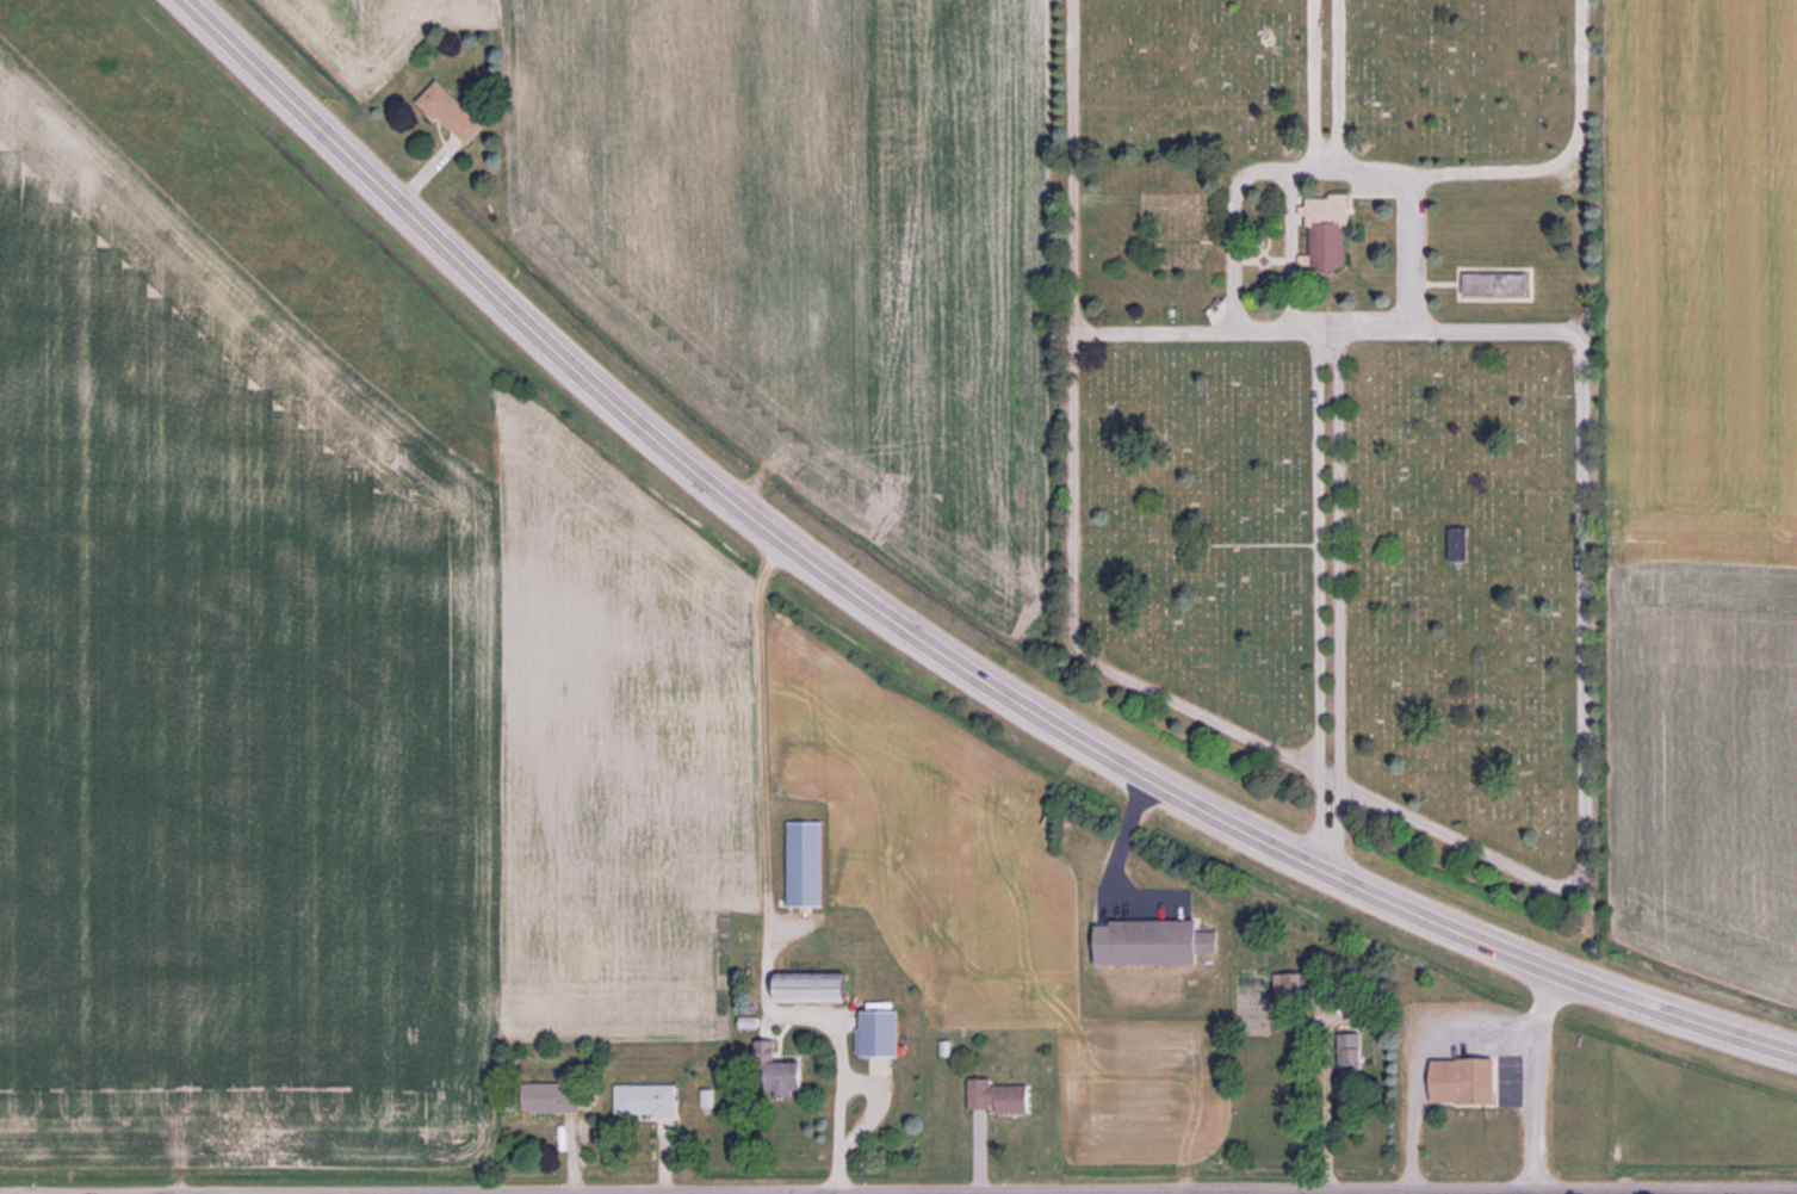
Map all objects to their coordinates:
road: (1331, 83)
building: (454, 113)
road: (1321, 168)
building: (1330, 234)
building: (1498, 283)
road: (1326, 329)
park: (1341, 404)
building: (1460, 544)
road: (1330, 601)
road: (922, 637)
building: (807, 862)
building: (1165, 942)
building: (817, 988)
building: (1293, 989)
building: (885, 1032)
road: (838, 1051)
building: (1350, 1051)
road: (1409, 1057)
building: (788, 1076)
road: (1524, 1078)
building: (1467, 1081)
building: (1000, 1097)
building: (552, 1099)
building: (647, 1102)
road: (1319, 1105)
road: (1662, 1193)

